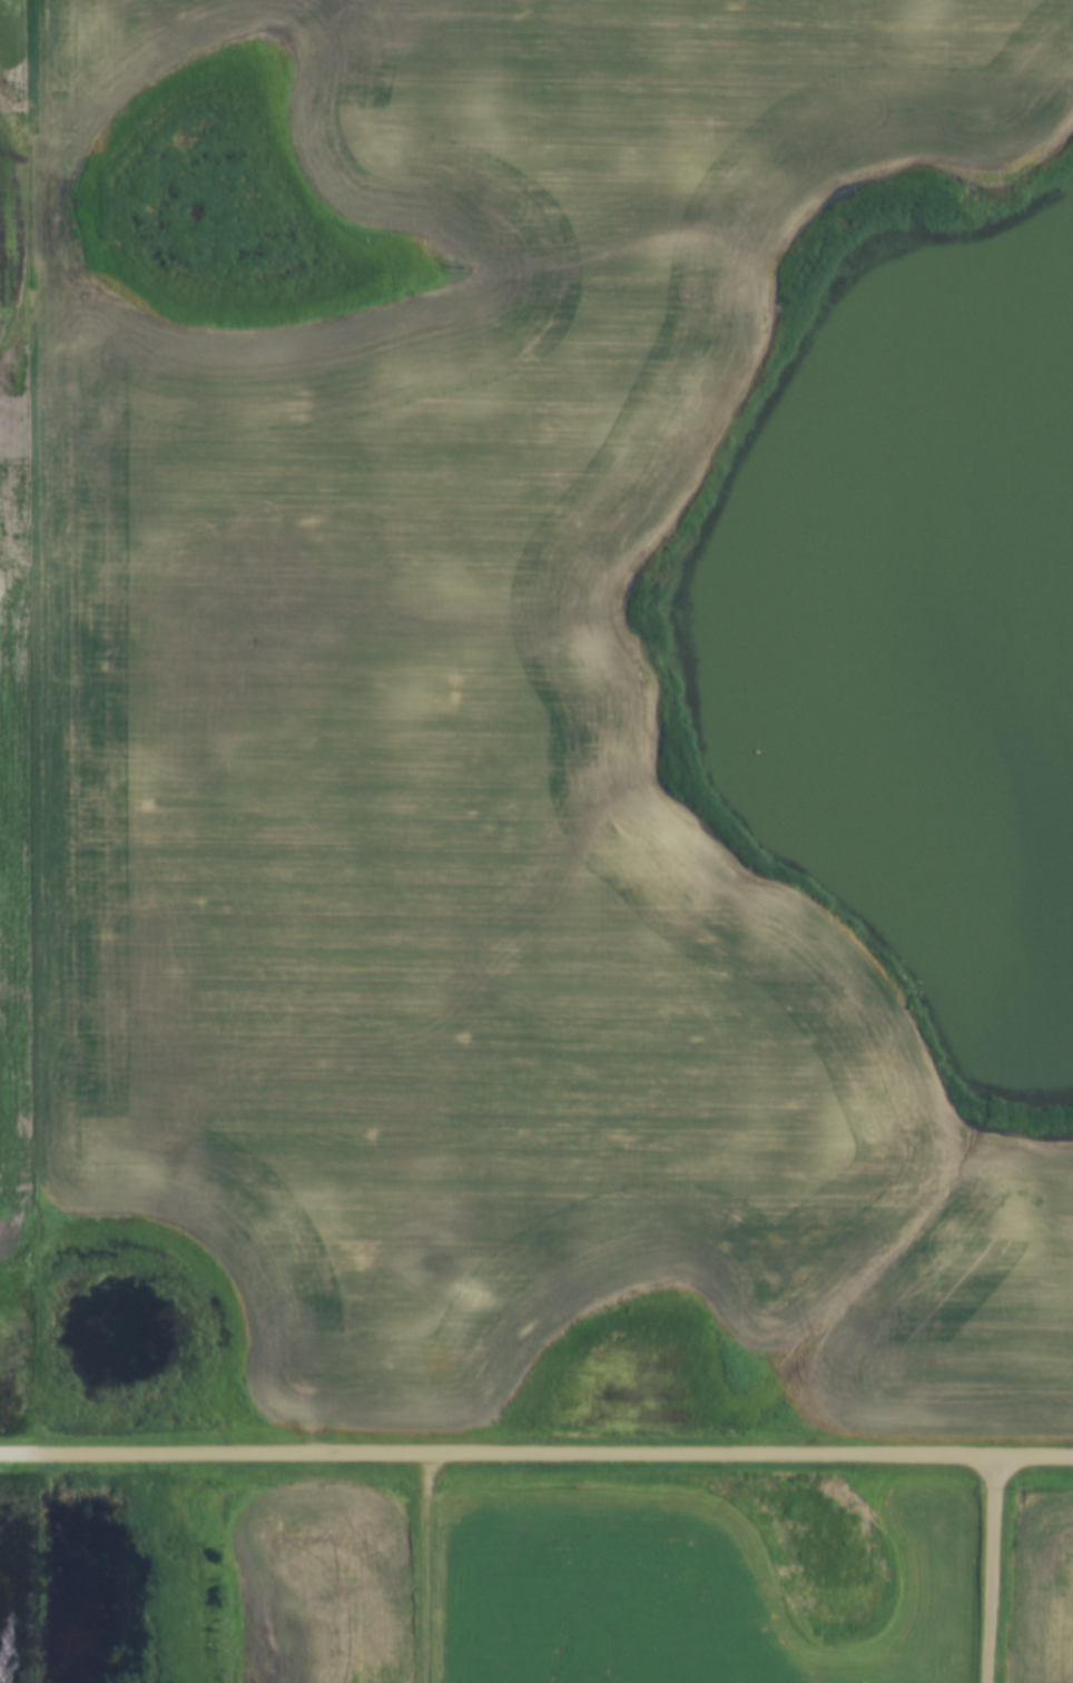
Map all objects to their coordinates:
road: (536, 1456)
road: (433, 1568)
road: (996, 1572)

